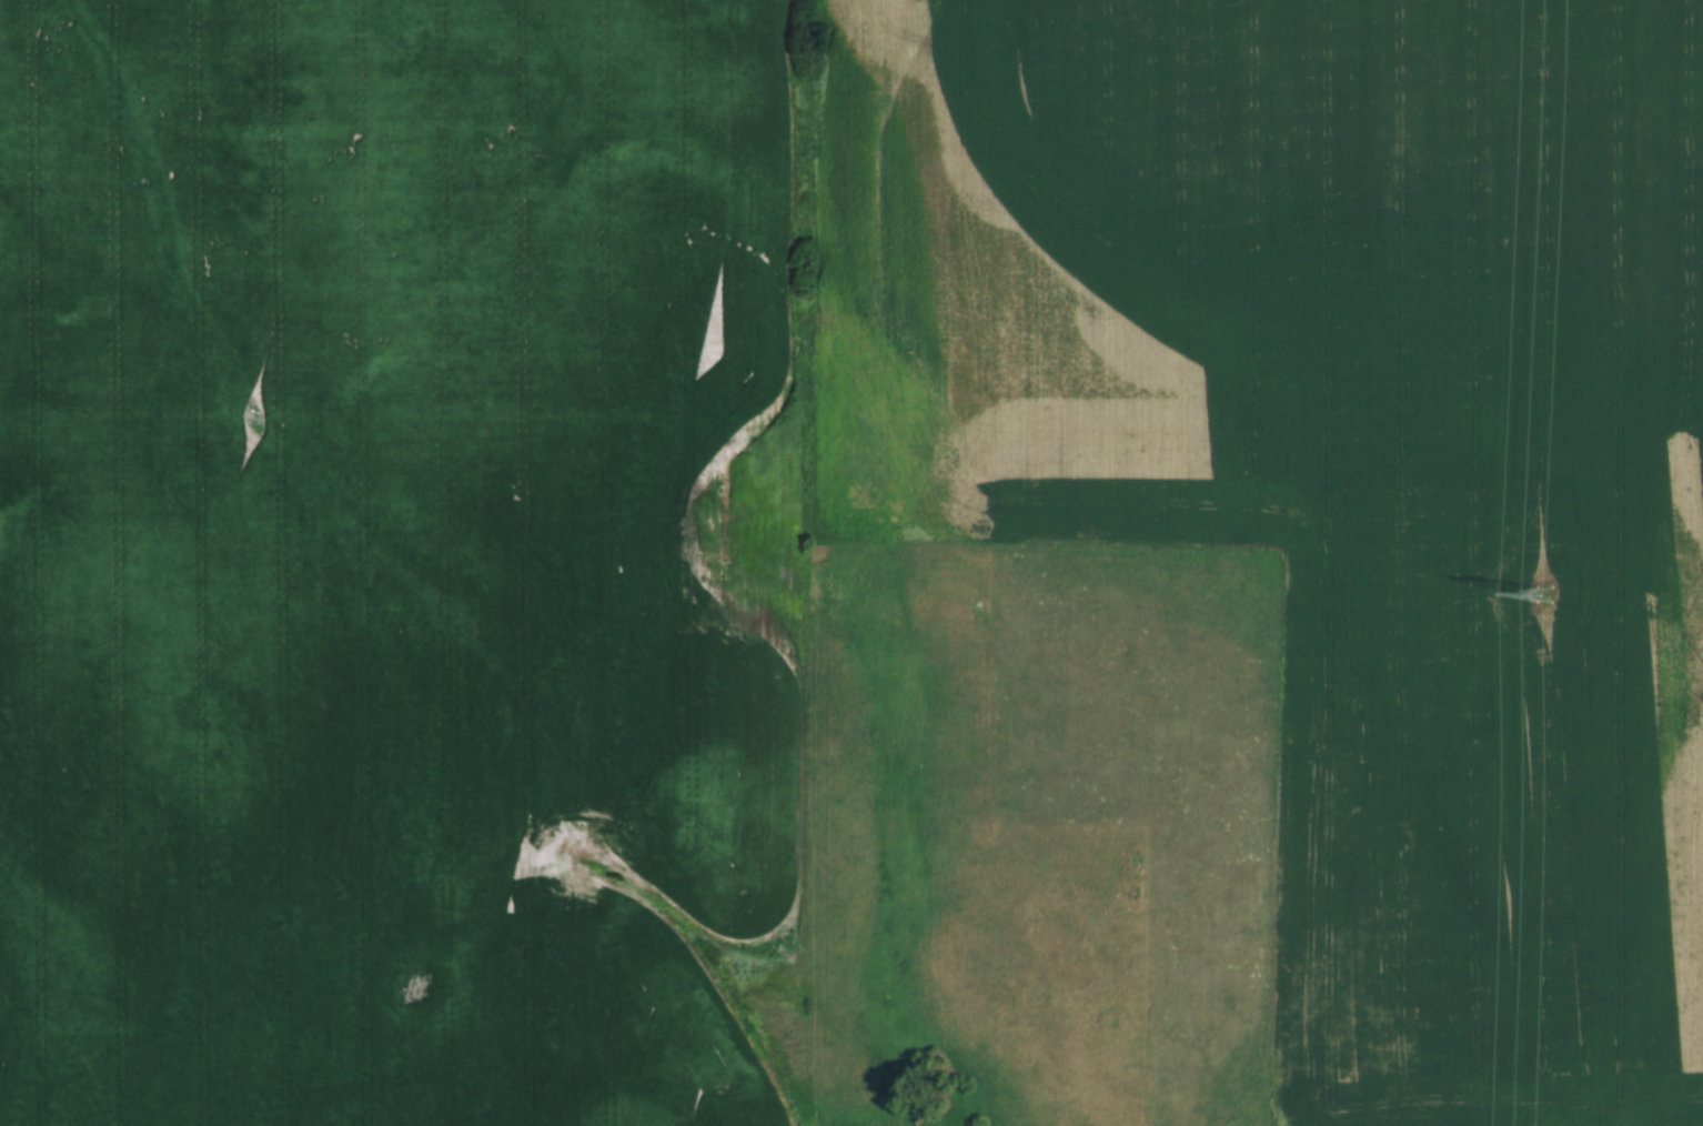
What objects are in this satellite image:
crop: (1350, 463)
power tower: (1540, 594)

